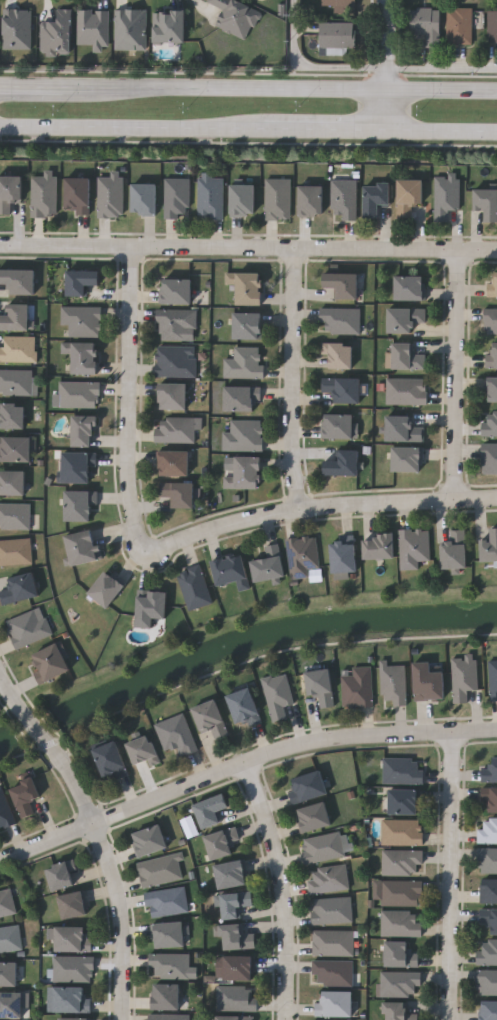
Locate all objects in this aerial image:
building: (340, 4)
building: (425, 23)
building: (492, 23)
building: (459, 24)
building: (169, 26)
building: (93, 28)
building: (131, 29)
building: (336, 34)
road: (391, 64)
road: (313, 67)
road: (280, 88)
road: (31, 89)
road: (327, 129)
road: (131, 130)
road: (444, 130)
building: (9, 192)
building: (78, 195)
building: (44, 196)
building: (210, 196)
building: (409, 196)
building: (445, 196)
building: (110, 197)
building: (177, 198)
building: (376, 198)
building: (144, 199)
building: (243, 199)
building: (278, 199)
building: (344, 199)
building: (311, 200)
building: (487, 203)
road: (248, 249)
building: (19, 280)
building: (81, 281)
building: (343, 283)
building: (493, 284)
building: (247, 287)
building: (410, 288)
building: (177, 291)
building: (16, 316)
building: (405, 318)
building: (82, 320)
building: (490, 320)
building: (176, 323)
building: (248, 325)
building: (18, 349)
building: (339, 354)
building: (492, 354)
building: (83, 357)
building: (407, 357)
building: (176, 361)
building: (244, 363)
road: (457, 375)
road: (294, 379)
building: (17, 381)
building: (342, 388)
building: (492, 388)
building: (406, 390)
building: (79, 394)
building: (173, 396)
building: (242, 397)
road: (129, 398)
building: (13, 415)
building: (490, 424)
building: (340, 426)
building: (177, 429)
building: (402, 429)
building: (84, 431)
building: (243, 435)
building: (15, 449)
building: (489, 458)
building: (407, 459)
building: (174, 463)
building: (343, 464)
building: (77, 467)
building: (245, 473)
building: (12, 482)
building: (178, 493)
building: (79, 505)
road: (319, 507)
building: (14, 516)
building: (82, 547)
building: (379, 547)
building: (413, 547)
building: (489, 547)
building: (455, 550)
building: (15, 551)
building: (302, 555)
building: (343, 556)
building: (269, 564)
building: (231, 570)
building: (194, 586)
building: (20, 589)
building: (106, 589)
building: (151, 607)
building: (28, 628)
building: (50, 662)
building: (463, 677)
building: (493, 679)
building: (428, 682)
building: (393, 684)
building: (321, 686)
building: (357, 686)
building: (277, 695)
building: (243, 707)
building: (211, 719)
building: (176, 735)
road: (51, 748)
road: (288, 748)
building: (143, 751)
building: (110, 761)
building: (402, 771)
building: (489, 772)
building: (308, 787)
building: (25, 796)
building: (490, 797)
building: (405, 801)
building: (5, 810)
building: (211, 810)
building: (314, 817)
building: (488, 831)
building: (402, 832)
building: (149, 841)
building: (221, 843)
road: (47, 844)
building: (323, 847)
building: (487, 859)
building: (401, 861)
building: (160, 870)
building: (231, 874)
building: (61, 875)
road: (451, 876)
building: (328, 879)
road: (283, 889)
building: (489, 891)
building: (401, 892)
building: (166, 901)
building: (7, 902)
building: (73, 904)
building: (234, 904)
building: (331, 910)
building: (489, 918)
road: (121, 920)
building: (400, 924)
building: (168, 935)
building: (73, 938)
building: (236, 938)
building: (10, 939)
building: (333, 942)
building: (487, 953)
building: (400, 955)
building: (169, 965)
building: (73, 968)
building: (238, 968)
building: (332, 972)
building: (8, 974)
building: (487, 982)
building: (400, 983)
building: (166, 996)
building: (236, 998)
building: (72, 1000)
building: (335, 1004)
building: (11, 1005)
building: (398, 1011)
building: (489, 1011)
building: (169, 1017)
building: (235, 1018)
building: (74, 1019)

